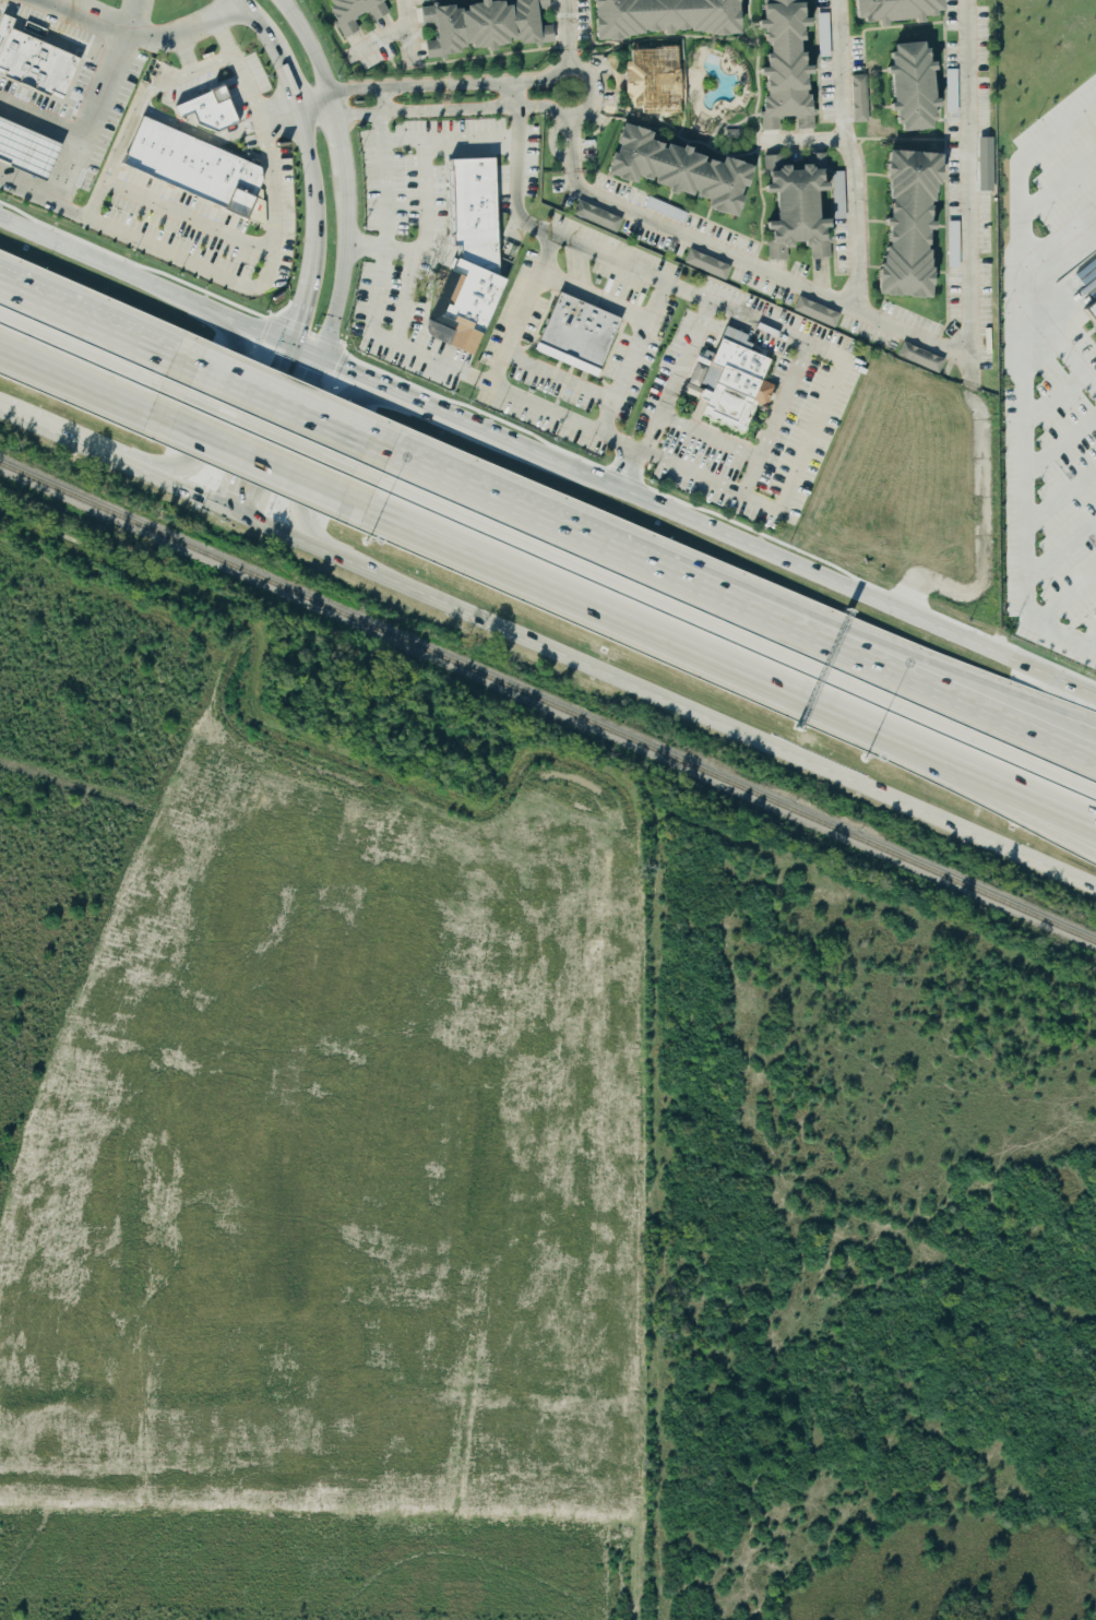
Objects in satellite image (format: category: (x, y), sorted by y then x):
building: (900, 11)
building: (353, 12)
road: (129, 15)
building: (667, 19)
road: (251, 21)
building: (487, 26)
road: (404, 33)
road: (562, 34)
road: (146, 35)
road: (307, 50)
road: (184, 52)
building: (35, 59)
building: (786, 62)
road: (283, 78)
building: (654, 81)
road: (591, 88)
building: (915, 88)
road: (144, 93)
road: (514, 94)
building: (858, 98)
road: (379, 100)
building: (210, 109)
road: (312, 110)
road: (40, 112)
road: (86, 117)
road: (278, 118)
road: (199, 132)
road: (334, 140)
road: (402, 140)
road: (798, 140)
building: (27, 150)
gas station: (27, 150)
road: (425, 152)
road: (845, 155)
building: (192, 166)
building: (683, 172)
road: (380, 181)
road: (1057, 186)
road: (312, 190)
building: (797, 206)
road: (168, 207)
building: (595, 217)
building: (913, 226)
road: (565, 237)
road: (1057, 241)
building: (1094, 252)
building: (468, 259)
building: (706, 264)
road: (337, 272)
road: (257, 285)
road: (595, 294)
road: (150, 298)
road: (523, 308)
building: (1092, 311)
building: (815, 312)
road: (299, 315)
road: (100, 322)
building: (576, 334)
road: (903, 334)
road: (1058, 340)
road: (632, 357)
building: (917, 357)
road: (444, 362)
traffic signals: (299, 364)
road: (91, 369)
road: (558, 377)
road: (344, 382)
building: (728, 382)
road: (1018, 382)
road: (665, 400)
road: (1052, 400)
road: (4, 401)
road: (285, 403)
road: (210, 426)
road: (774, 426)
road: (453, 428)
road: (269, 432)
road: (809, 437)
road: (265, 445)
road: (1056, 449)
road: (123, 452)
road: (309, 463)
traffic signals: (239, 502)
road: (1056, 502)
road: (982, 525)
road: (1056, 553)
road: (672, 568)
road: (807, 579)
road: (582, 585)
road: (1065, 600)
road: (1089, 642)
road: (667, 689)
railway: (548, 702)
road: (1036, 707)
road: (1035, 723)
road: (955, 748)
road: (952, 775)
railway: (551, 1029)

